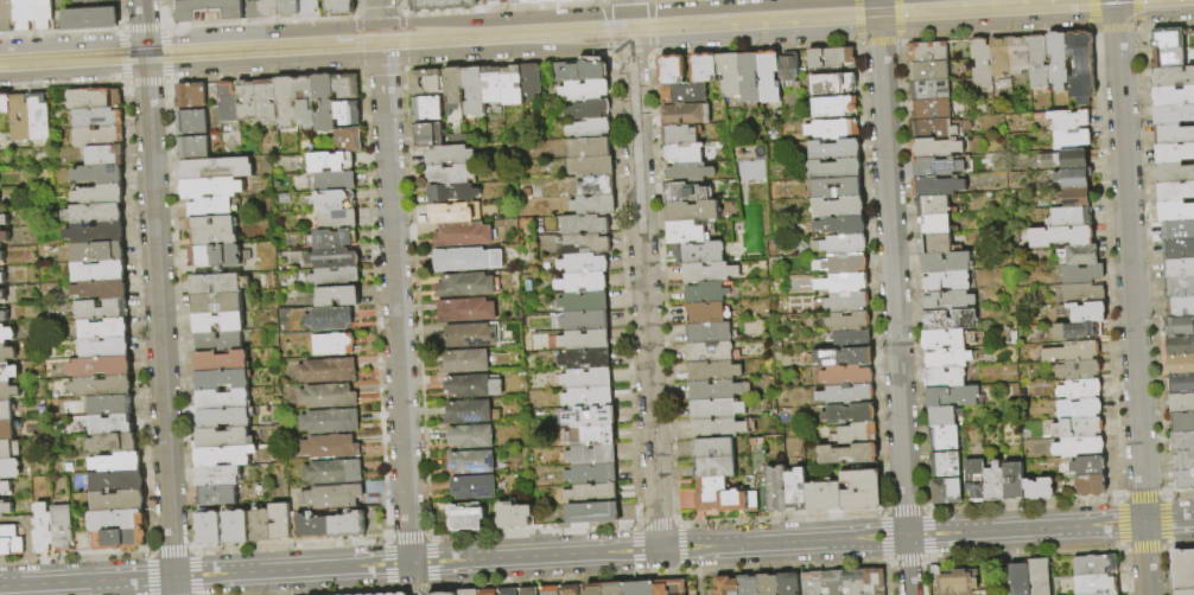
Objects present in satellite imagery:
building: (85, 0)
building: (515, 1)
building: (547, 1)
road: (605, 1)
road: (617, 1)
building: (494, 2)
building: (443, 5)
road: (628, 5)
road: (720, 5)
road: (400, 6)
building: (309, 7)
building: (339, 7)
road: (356, 7)
road: (503, 7)
building: (271, 8)
building: (290, 8)
building: (209, 9)
building: (254, 9)
road: (1114, 9)
road: (379, 11)
road: (1137, 13)
building: (23, 14)
building: (42, 14)
road: (158, 14)
road: (379, 14)
road: (1093, 14)
building: (6, 15)
road: (878, 15)
road: (503, 17)
road: (1155, 17)
building: (89, 18)
road: (141, 18)
road: (261, 20)
road: (401, 20)
road: (608, 20)
road: (858, 20)
road: (898, 20)
road: (357, 23)
road: (997, 25)
road: (1166, 25)
road: (142, 26)
road: (652, 26)
railway: (412, 28)
road: (1116, 28)
road: (261, 30)
road: (402, 30)
railway: (523, 30)
road: (567, 30)
road: (61, 31)
road: (358, 32)
railway: (597, 33)
road: (997, 34)
road: (755, 38)
building: (1161, 38)
railway: (624, 39)
road: (71, 40)
road: (879, 40)
building: (1192, 40)
road: (609, 49)
road: (756, 49)
road: (404, 50)
building: (927, 51)
road: (360, 52)
road: (506, 52)
building: (998, 52)
building: (1017, 52)
road: (166, 53)
road: (144, 55)
road: (630, 55)
road: (122, 56)
building: (830, 57)
building: (1161, 58)
building: (1056, 59)
building: (1036, 62)
road: (507, 63)
building: (979, 63)
road: (263, 65)
building: (703, 66)
building: (788, 66)
building: (1079, 66)
road: (382, 69)
building: (671, 69)
building: (928, 70)
building: (579, 72)
building: (729, 73)
road: (72, 75)
road: (263, 76)
building: (749, 76)
building: (768, 76)
building: (1169, 77)
building: (426, 82)
building: (529, 82)
road: (146, 83)
building: (832, 83)
building: (491, 85)
building: (510, 85)
road: (62, 87)
building: (453, 87)
building: (344, 88)
building: (927, 89)
building: (585, 90)
building: (474, 92)
building: (684, 92)
building: (195, 95)
building: (1170, 96)
building: (95, 98)
building: (265, 100)
building: (303, 100)
building: (246, 101)
building: (226, 102)
building: (284, 102)
building: (5, 103)
building: (323, 103)
building: (832, 105)
building: (929, 108)
building: (428, 109)
building: (588, 110)
building: (345, 114)
building: (685, 114)
building: (1168, 115)
building: (39, 117)
building: (99, 117)
building: (20, 119)
building: (1061, 121)
building: (196, 122)
building: (938, 127)
building: (590, 129)
building: (831, 129)
building: (679, 134)
building: (428, 135)
building: (1169, 135)
building: (99, 137)
building: (347, 137)
building: (1063, 140)
building: (935, 146)
building: (197, 148)
building: (590, 148)
building: (834, 149)
building: (684, 153)
building: (1170, 153)
building: (451, 155)
building: (106, 156)
building: (1058, 160)
building: (328, 162)
building: (938, 165)
building: (591, 167)
building: (834, 168)
building: (220, 169)
building: (688, 172)
building: (1171, 173)
building: (100, 174)
building: (452, 174)
building: (1066, 179)
building: (331, 181)
building: (596, 186)
building: (936, 186)
building: (836, 187)
building: (215, 188)
building: (686, 192)
building: (1171, 192)
building: (452, 193)
building: (101, 194)
building: (1068, 198)
building: (331, 200)
building: (595, 205)
building: (932, 205)
building: (838, 206)
building: (214, 209)
building: (692, 211)
building: (1171, 212)
building: (96, 213)
building: (453, 213)
building: (1063, 218)
building: (336, 219)
building: (4, 220)
building: (840, 224)
building: (933, 224)
building: (585, 225)
building: (1174, 231)
building: (216, 232)
building: (686, 232)
building: (96, 233)
building: (464, 235)
building: (1054, 237)
building: (4, 238)
building: (331, 238)
building: (933, 243)
building: (586, 244)
building: (839, 244)
building: (1175, 250)
building: (100, 252)
building: (699, 252)
building: (1074, 255)
building: (1, 257)
building: (218, 257)
building: (331, 258)
building: (466, 261)
building: (944, 261)
building: (584, 263)
building: (840, 263)
building: (1175, 269)
building: (709, 271)
building: (100, 273)
building: (1075, 275)
building: (332, 276)
building: (2, 279)
building: (841, 281)
building: (945, 281)
building: (583, 283)
road: (893, 283)
building: (222, 284)
building: (466, 287)
building: (1175, 288)
building: (103, 290)
building: (707, 292)
building: (1075, 294)
building: (4, 295)
building: (336, 296)
road: (643, 297)
building: (946, 300)
road: (417, 301)
building: (845, 301)
building: (584, 302)
building: (221, 303)
road: (374, 303)
road: (1131, 306)
building: (1176, 307)
building: (102, 311)
road: (395, 311)
building: (468, 311)
building: (706, 312)
building: (1080, 313)
building: (4, 316)
building: (950, 318)
building: (332, 320)
building: (585, 321)
building: (846, 321)
building: (221, 322)
building: (1174, 326)
building: (104, 330)
building: (1074, 331)
building: (710, 332)
road: (159, 333)
building: (1050, 333)
building: (6, 334)
building: (470, 337)
building: (947, 338)
building: (851, 339)
building: (585, 340)
building: (222, 343)
building: (338, 345)
building: (1176, 346)
building: (106, 348)
building: (712, 352)
building: (1065, 352)
building: (7, 354)
building: (841, 357)
building: (947, 358)
building: (586, 360)
building: (224, 362)
building: (466, 362)
building: (1177, 365)
building: (101, 367)
building: (713, 369)
building: (1071, 370)
building: (331, 371)
building: (7, 373)
building: (845, 376)
building: (944, 377)
building: (226, 379)
building: (588, 379)
building: (1177, 383)
building: (474, 386)
building: (102, 388)
building: (716, 388)
building: (1073, 390)
building: (8, 392)
building: (844, 394)
building: (953, 396)
building: (331, 397)
building: (589, 398)
building: (226, 399)
building: (1177, 403)
building: (110, 405)
building: (716, 409)
building: (1071, 409)
building: (6, 411)
building: (469, 412)
building: (849, 412)
building: (942, 415)
building: (228, 418)
building: (591, 418)
building: (335, 422)
building: (1180, 422)
building: (113, 427)
building: (719, 428)
building: (1069, 429)
building: (6, 430)
building: (855, 434)
building: (472, 436)
building: (591, 436)
building: (942, 436)
building: (228, 439)
building: (1180, 442)
building: (113, 444)
building: (335, 447)
building: (715, 448)
building: (1071, 448)
building: (6, 450)
building: (847, 454)
building: (592, 455)
building: (228, 456)
building: (1181, 461)
building: (472, 462)
building: (118, 463)
building: (940, 465)
building: (715, 467)
building: (1081, 467)
building: (9, 469)
building: (337, 473)
building: (592, 475)
building: (221, 476)
building: (968, 480)
building: (1006, 480)
building: (1181, 480)
building: (118, 482)
building: (987, 484)
building: (1084, 486)
building: (5, 487)
building: (475, 488)
building: (1031, 488)
building: (769, 490)
building: (788, 490)
building: (852, 491)
building: (942, 492)
building: (592, 493)
building: (723, 495)
building: (220, 497)
building: (336, 497)
building: (815, 497)
building: (120, 503)
building: (5, 508)
building: (593, 513)
building: (515, 516)
building: (468, 518)
building: (279, 519)
building: (118, 522)
building: (260, 524)
building: (347, 524)
building: (235, 525)
building: (311, 525)
building: (208, 526)
building: (44, 529)
building: (63, 529)
road: (408, 536)
road: (430, 537)
road: (387, 538)
building: (119, 539)
building: (11, 542)
road: (291, 545)
road: (171, 550)
road: (193, 550)
road: (151, 552)
road: (597, 552)
road: (431, 562)
road: (388, 563)
road: (908, 565)
building: (1091, 565)
building: (1181, 569)
road: (195, 574)
road: (151, 576)
building: (1035, 577)
building: (1012, 580)
building: (868, 581)
building: (849, 582)
building: (955, 582)
building: (806, 583)
building: (827, 583)
building: (762, 584)
building: (782, 584)
building: (1093, 584)
building: (720, 586)
building: (743, 586)
building: (663, 587)
park: (697, 587)
road: (412, 588)
building: (604, 588)
building: (633, 588)
building: (584, 589)
building: (542, 590)
building: (563, 590)
road: (325, 591)
building: (481, 591)
building: (503, 591)
building: (522, 591)
building: (1182, 591)
building: (463, 593)
building: (395, 594)
building: (399, 594)
building: (442, 594)
building: (1111, 594)

